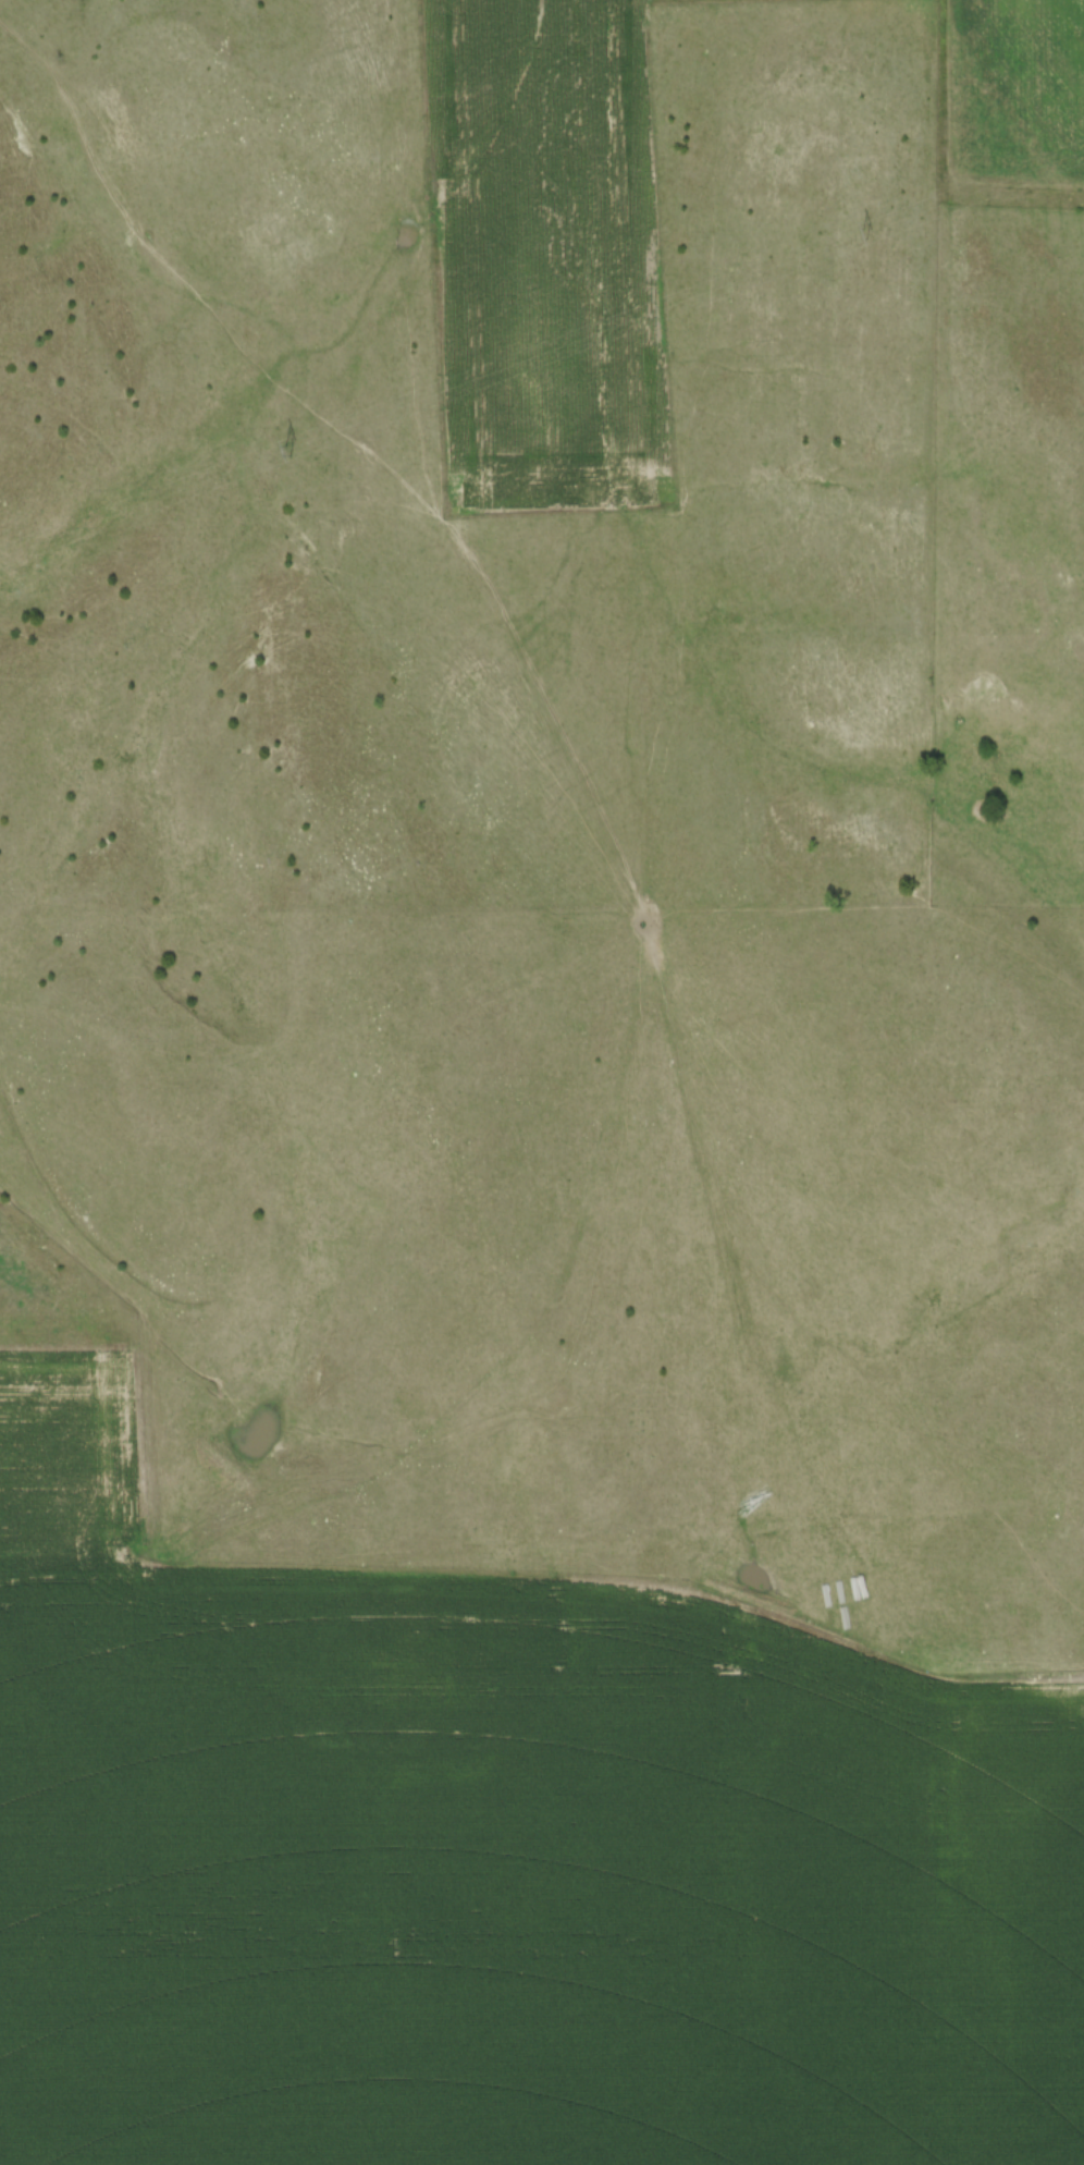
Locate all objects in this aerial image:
power tower: (867, 232)
power tower: (290, 450)

